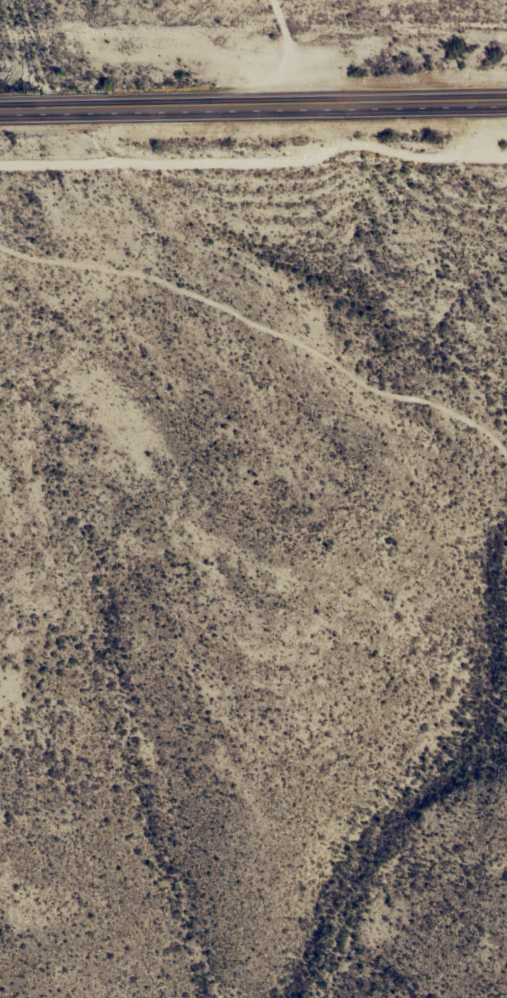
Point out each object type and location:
road: (253, 107)
road: (283, 315)

